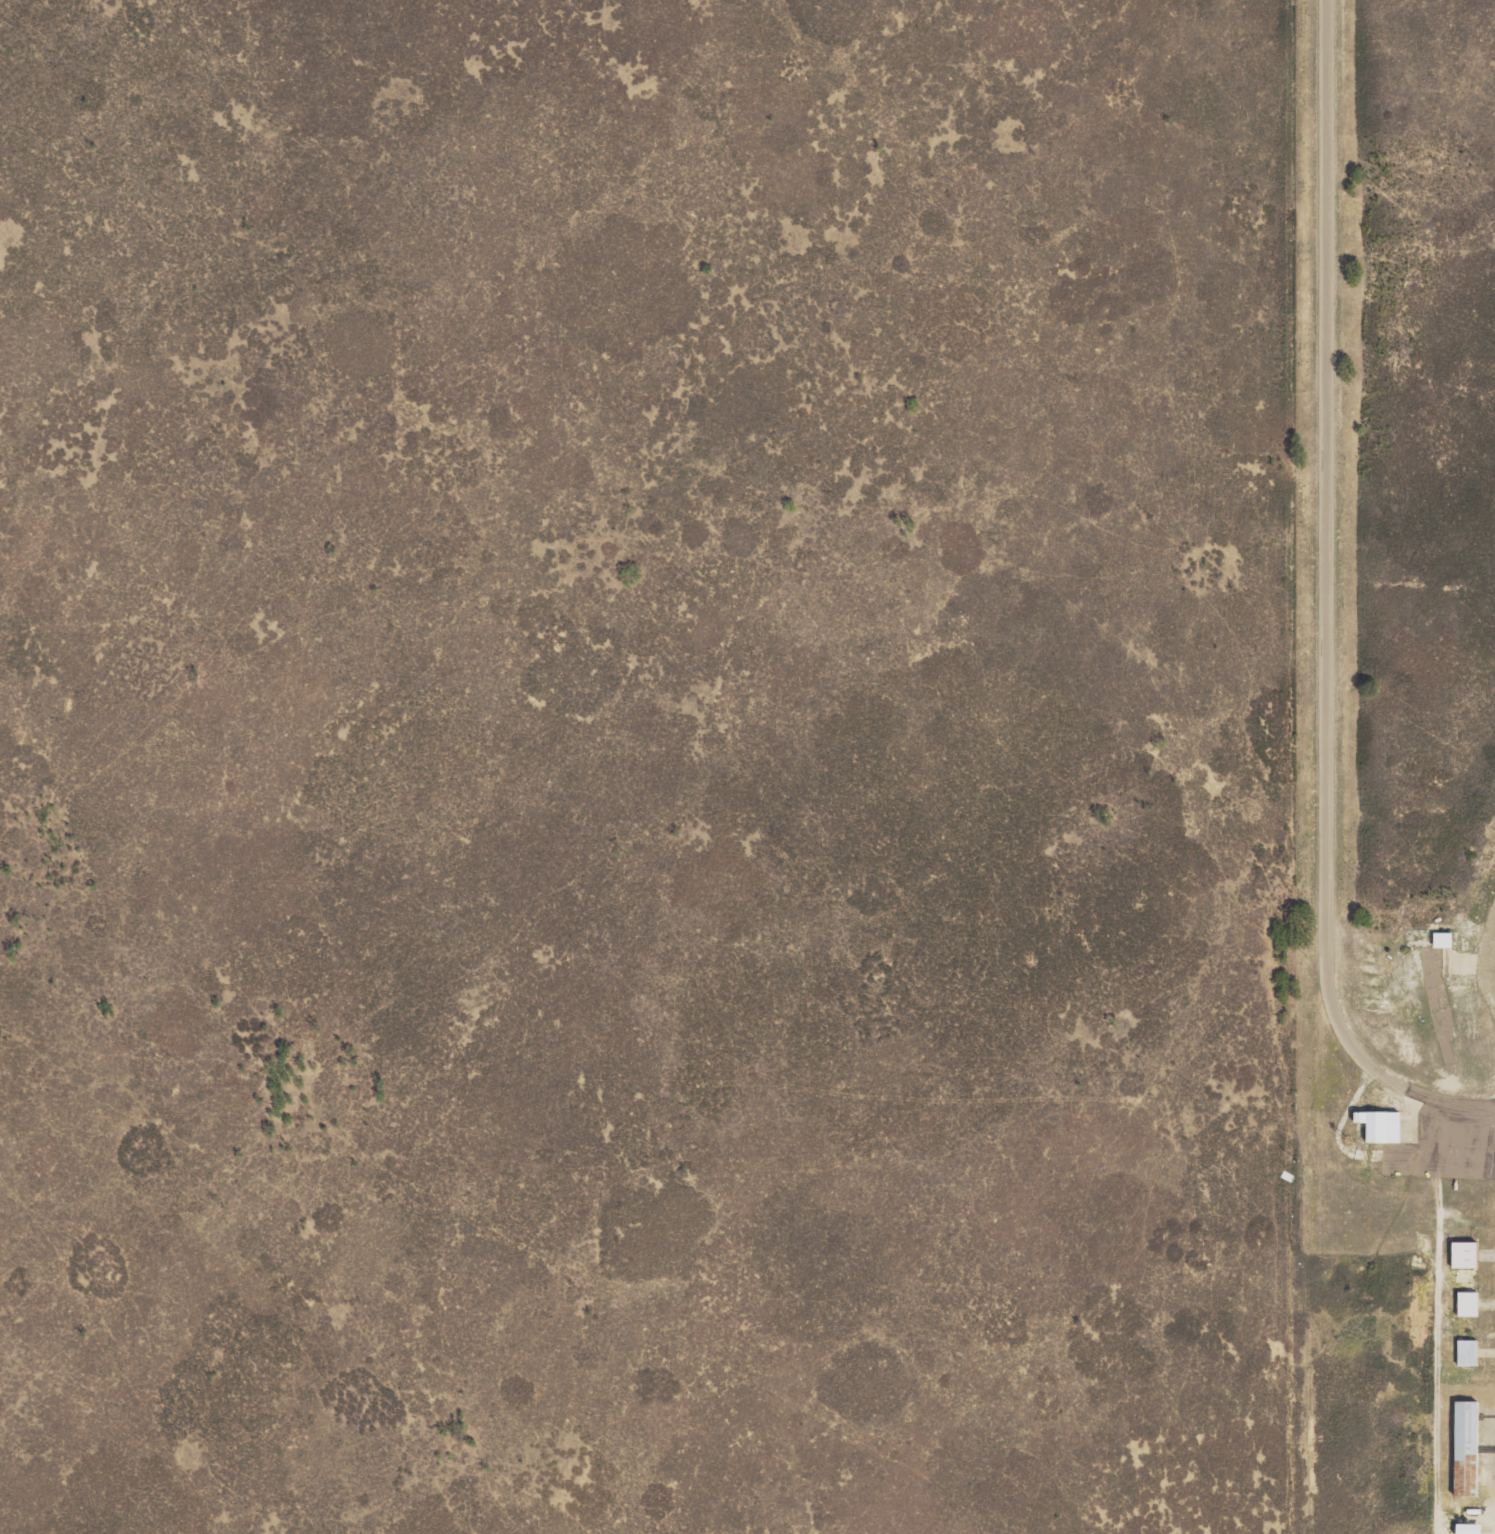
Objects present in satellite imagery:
road: (1326, 570)
airport: (1398, 766)
building: (1439, 940)
road: (1337, 1129)
airport apron: (1444, 1140)
airport taxiway: (1486, 1259)
airport taxiway: (1486, 1306)
road: (1436, 1355)
airport taxiway: (1484, 1355)
building: (1464, 1528)

